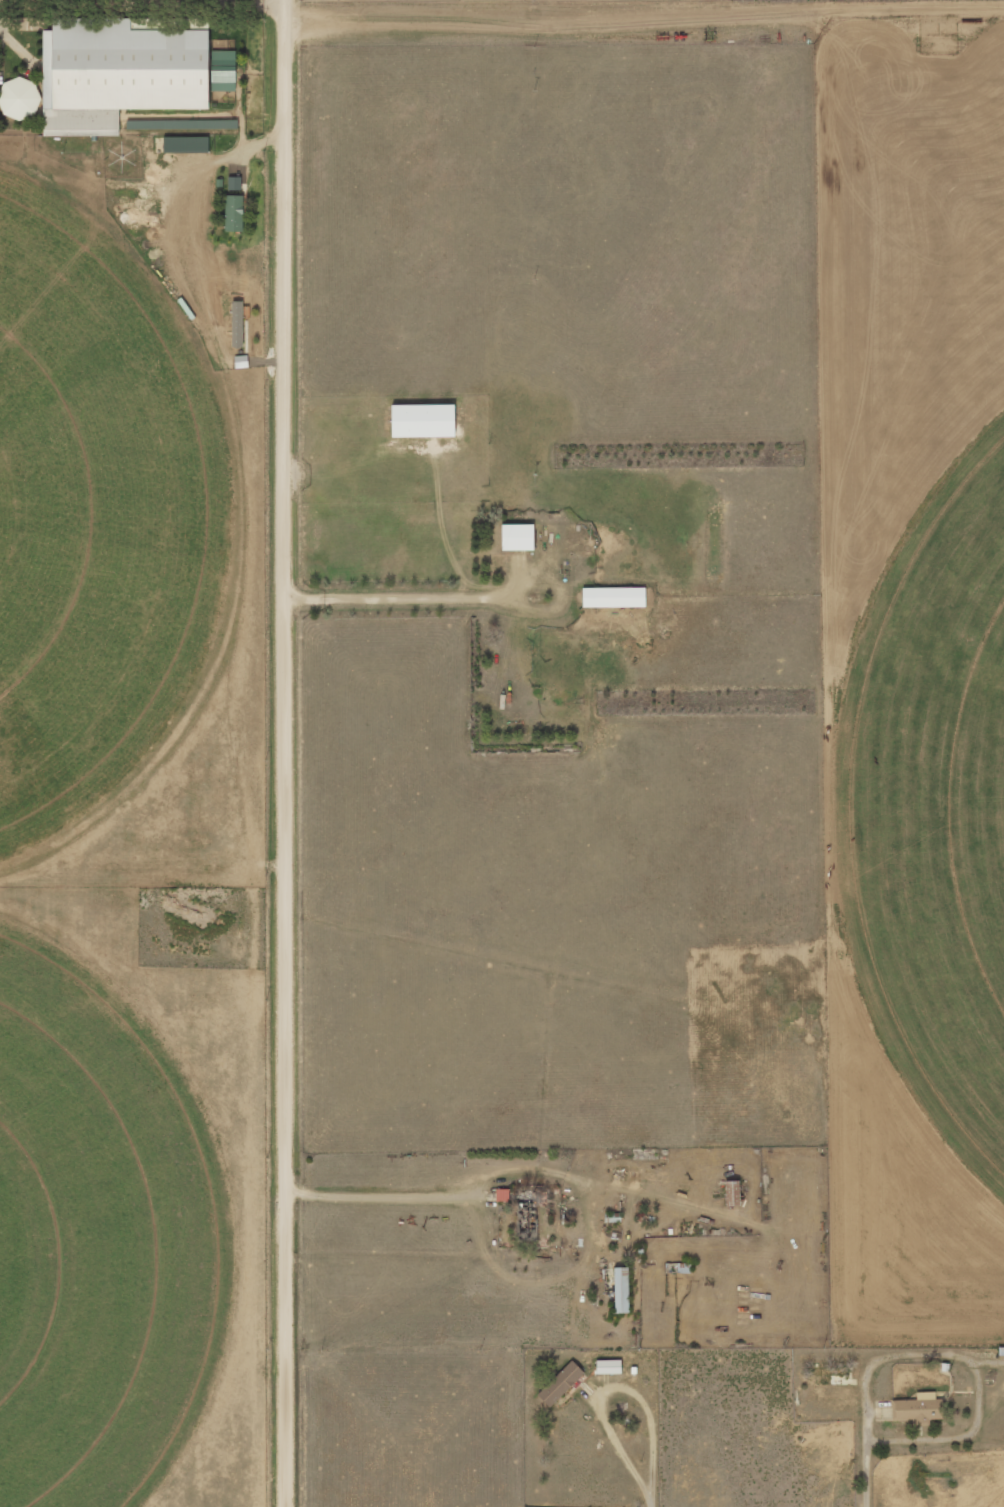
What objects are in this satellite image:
building: (223, 71)
building: (118, 74)
building: (19, 99)
building: (185, 145)
building: (234, 184)
building: (233, 213)
building: (423, 421)
crop: (91, 511)
building: (517, 538)
building: (613, 598)
road: (281, 753)
crop: (940, 808)
building: (733, 1192)
building: (526, 1216)
crop: (99, 1245)
building: (622, 1289)
building: (609, 1366)
building: (563, 1382)
building: (918, 1408)

